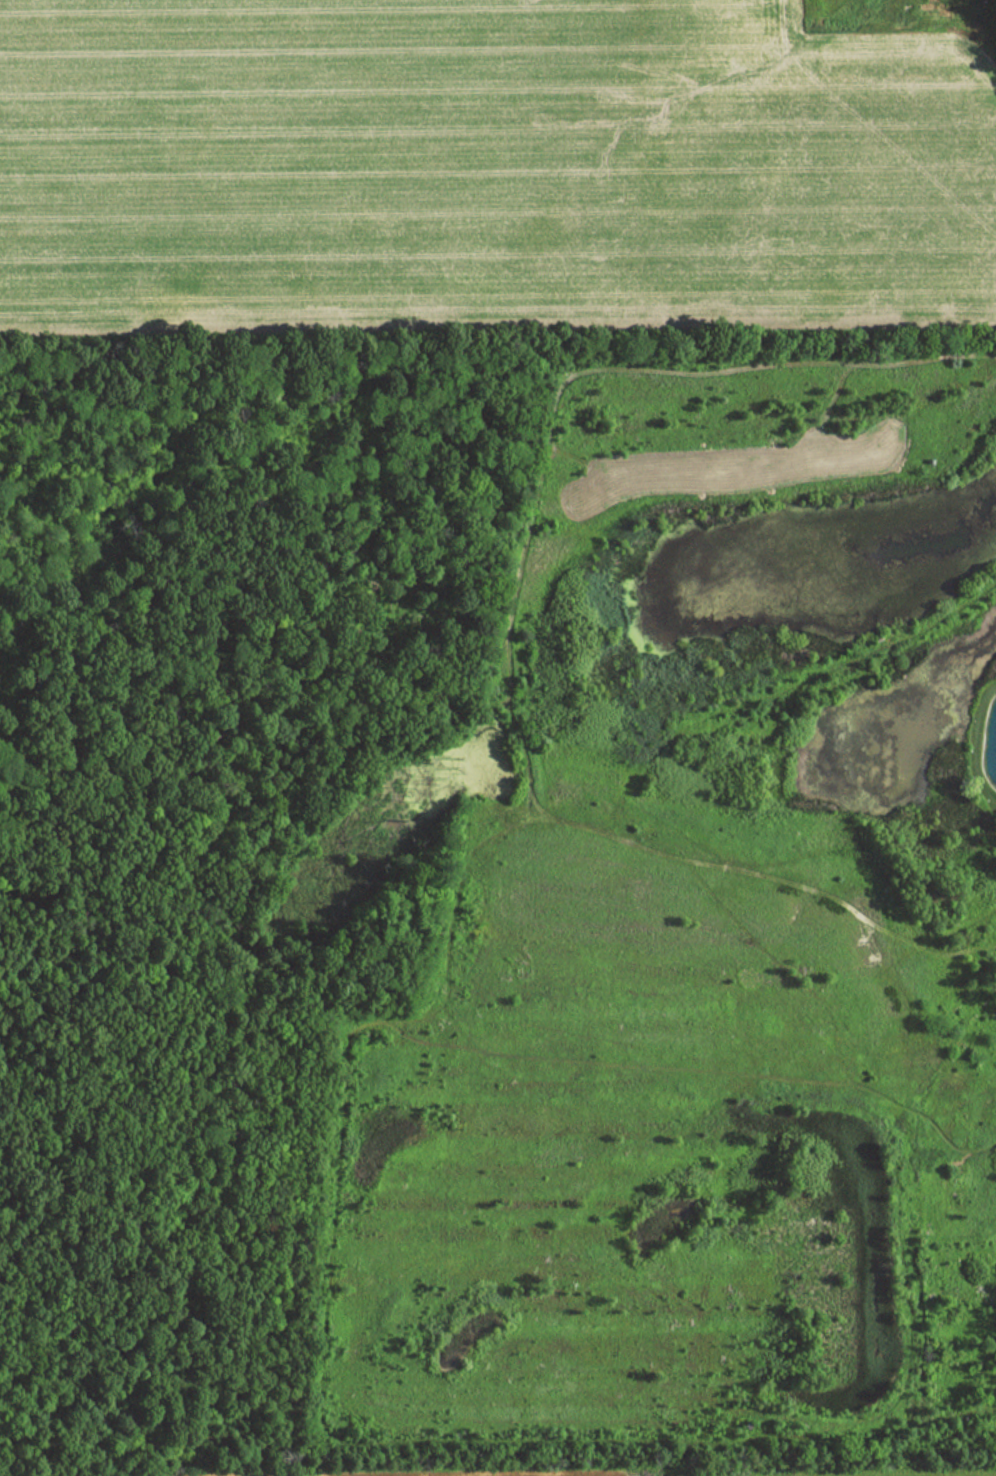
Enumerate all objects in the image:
crop: (482, 163)
crop: (447, 1468)

